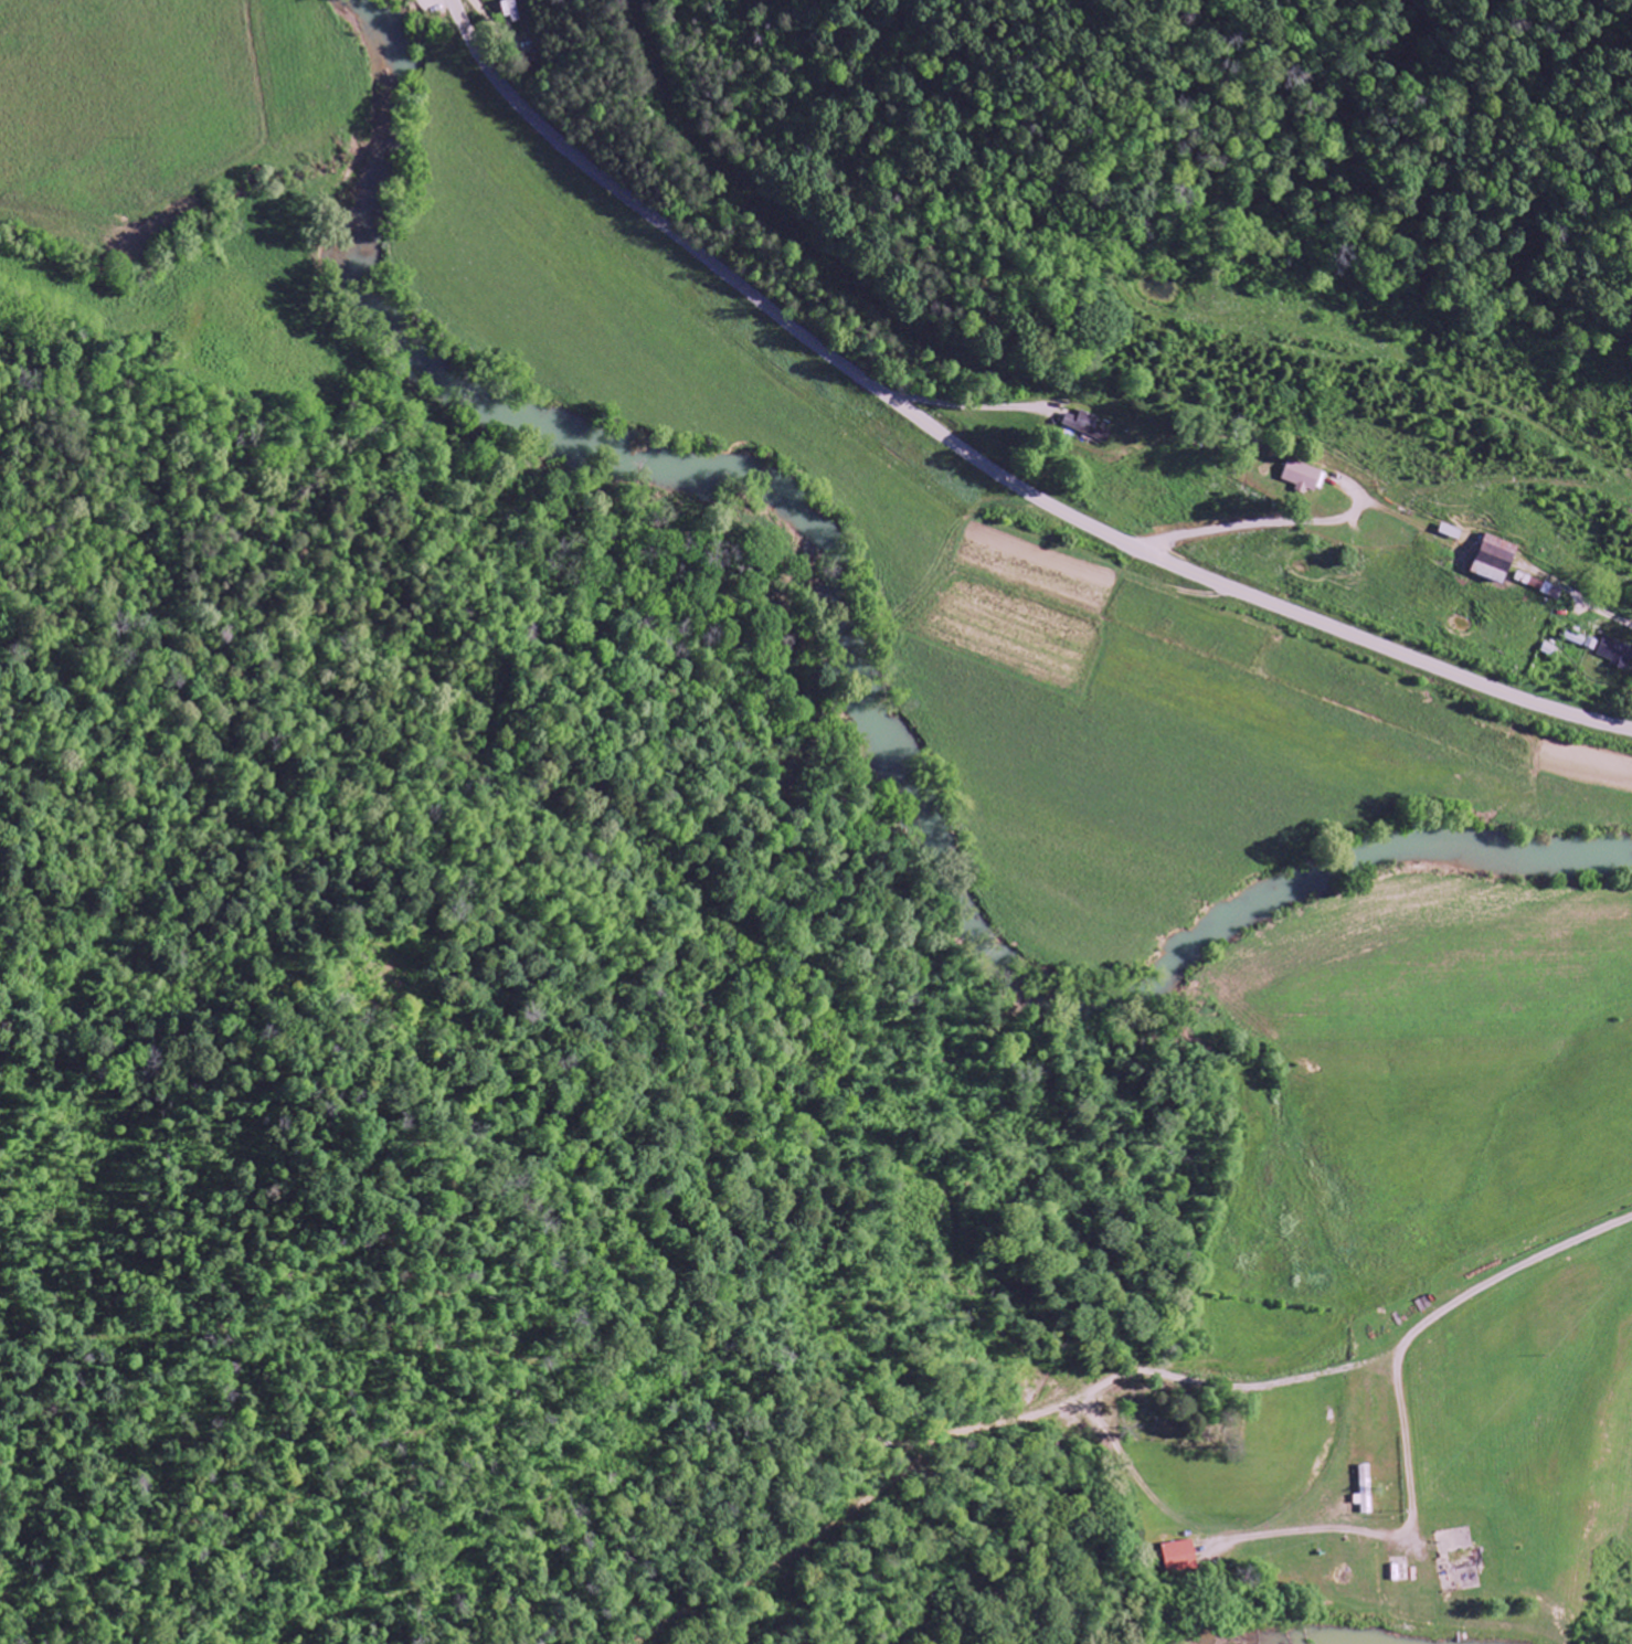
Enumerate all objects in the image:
building: (511, 11)
road: (966, 400)
building: (1085, 429)
road: (978, 462)
road: (1264, 522)
building: (1496, 561)
building: (1532, 583)
building: (1552, 592)
road: (1579, 593)
building: (1579, 645)
building: (1617, 653)
road: (1431, 1320)
building: (1366, 1491)
building: (1181, 1557)

